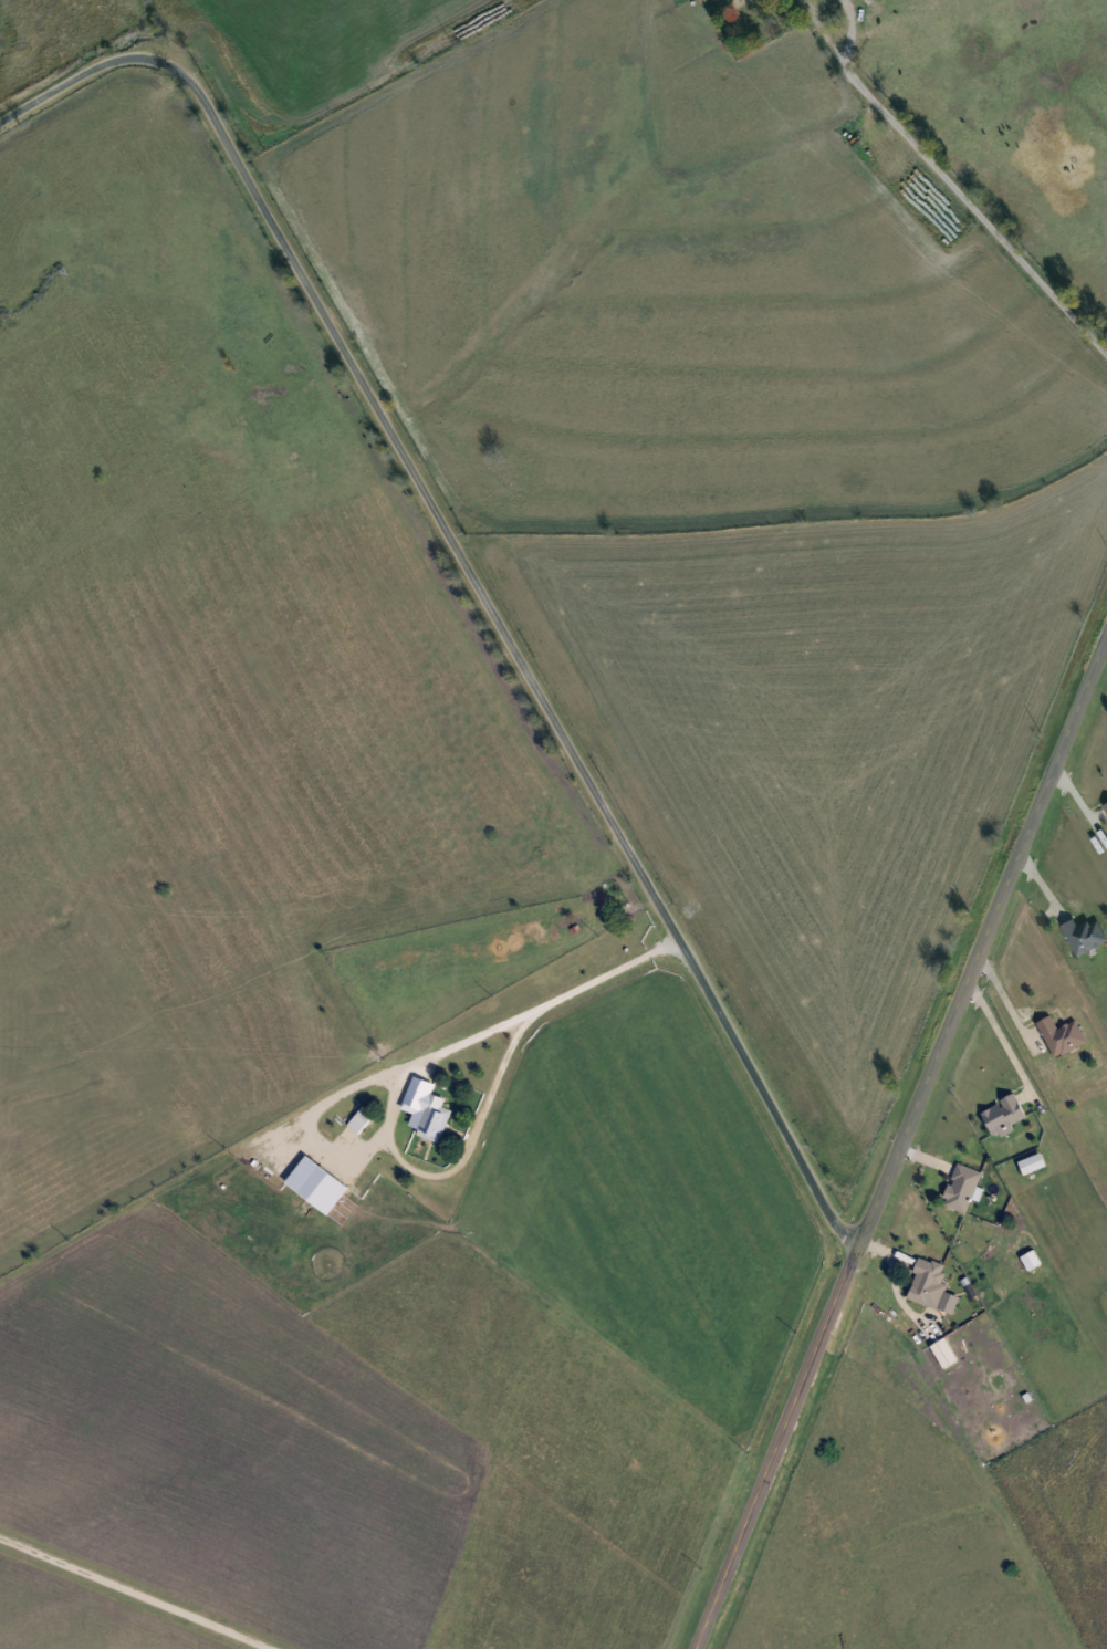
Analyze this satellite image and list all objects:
building: (719, 0)
building: (863, 1)
road: (849, 30)
road: (948, 182)
road: (464, 573)
building: (1104, 805)
building: (1077, 932)
road: (599, 975)
road: (1005, 999)
building: (1056, 1034)
road: (1001, 1035)
building: (998, 1113)
building: (426, 1117)
road: (477, 1133)
road: (897, 1135)
building: (1025, 1162)
building: (957, 1186)
building: (922, 1282)
building: (939, 1350)
road: (133, 1595)

